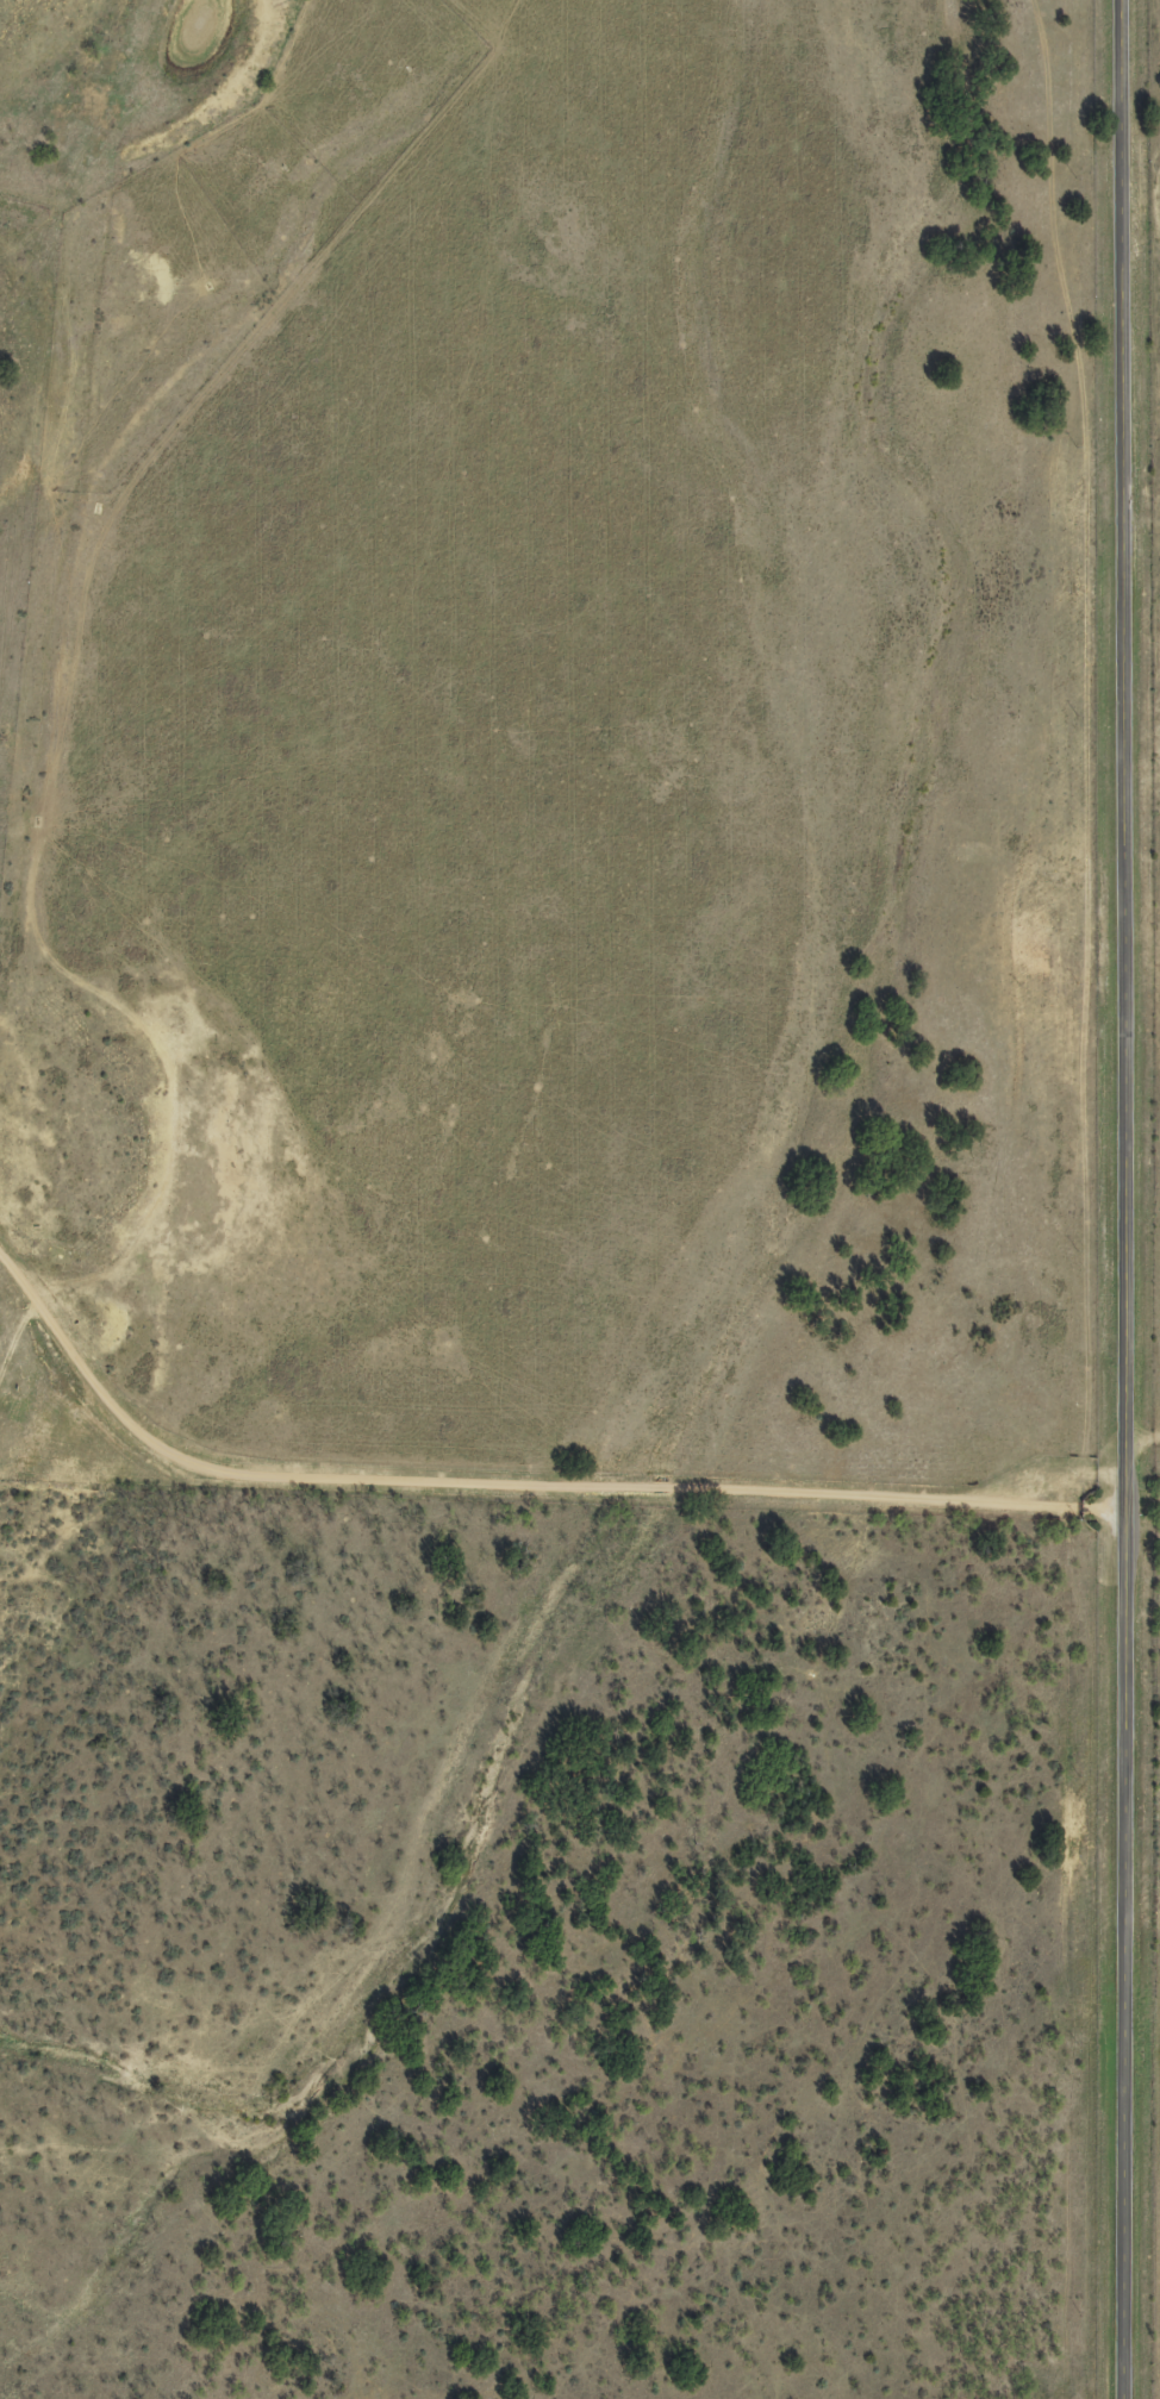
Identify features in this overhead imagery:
road: (1127, 1199)
road: (324, 1438)
road: (918, 1467)

